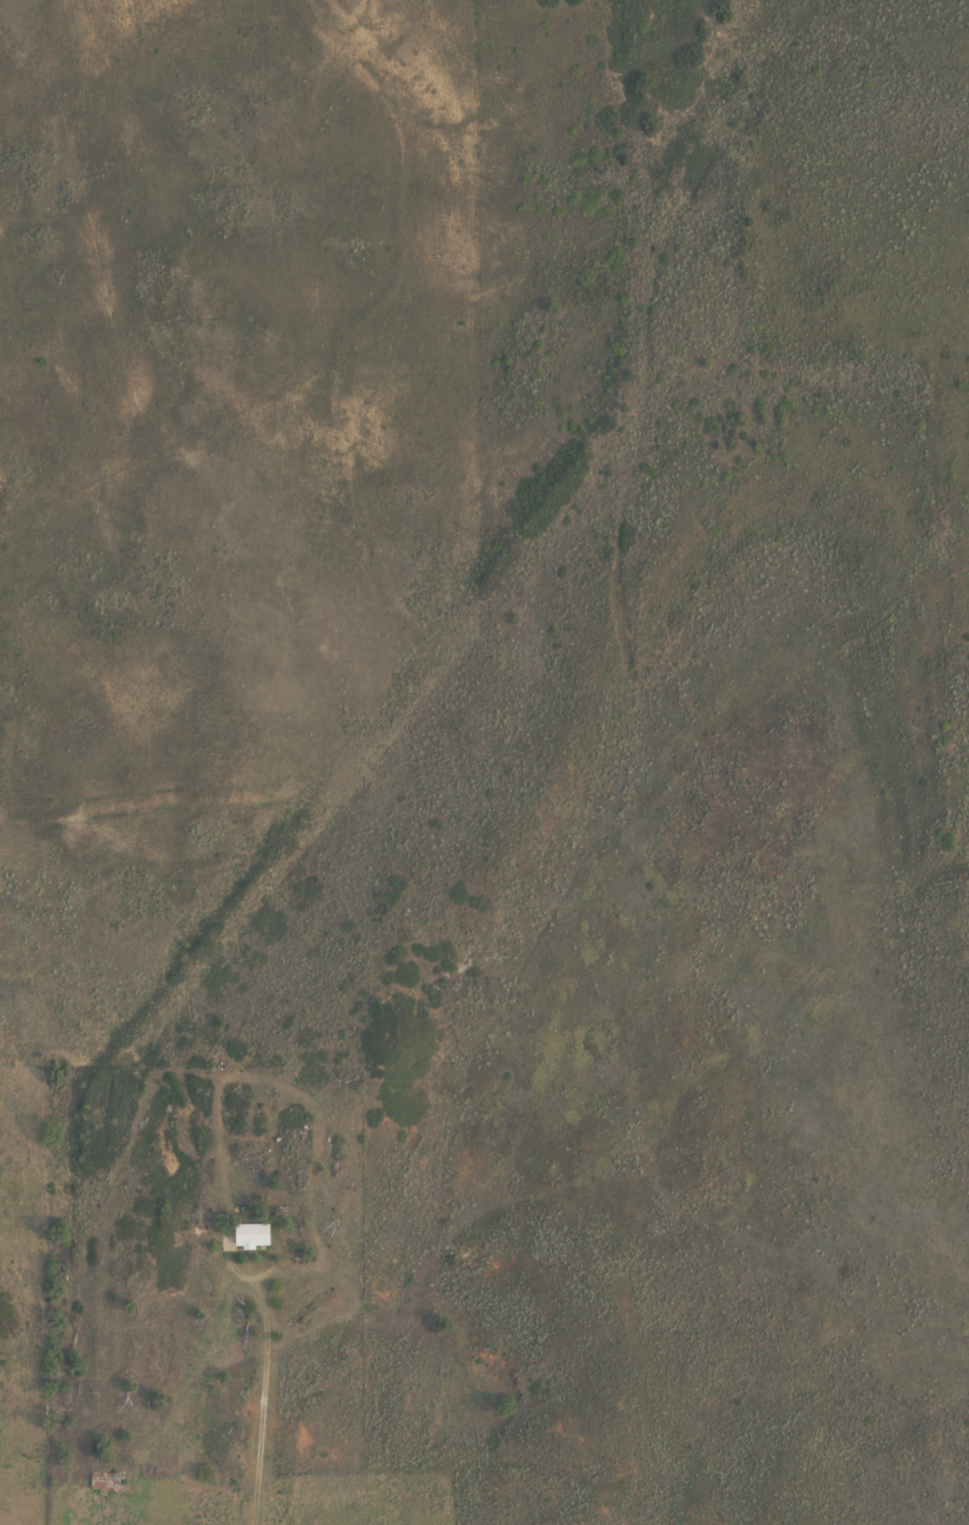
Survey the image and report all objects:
building: (255, 1235)
road: (254, 1408)
building: (108, 1479)

